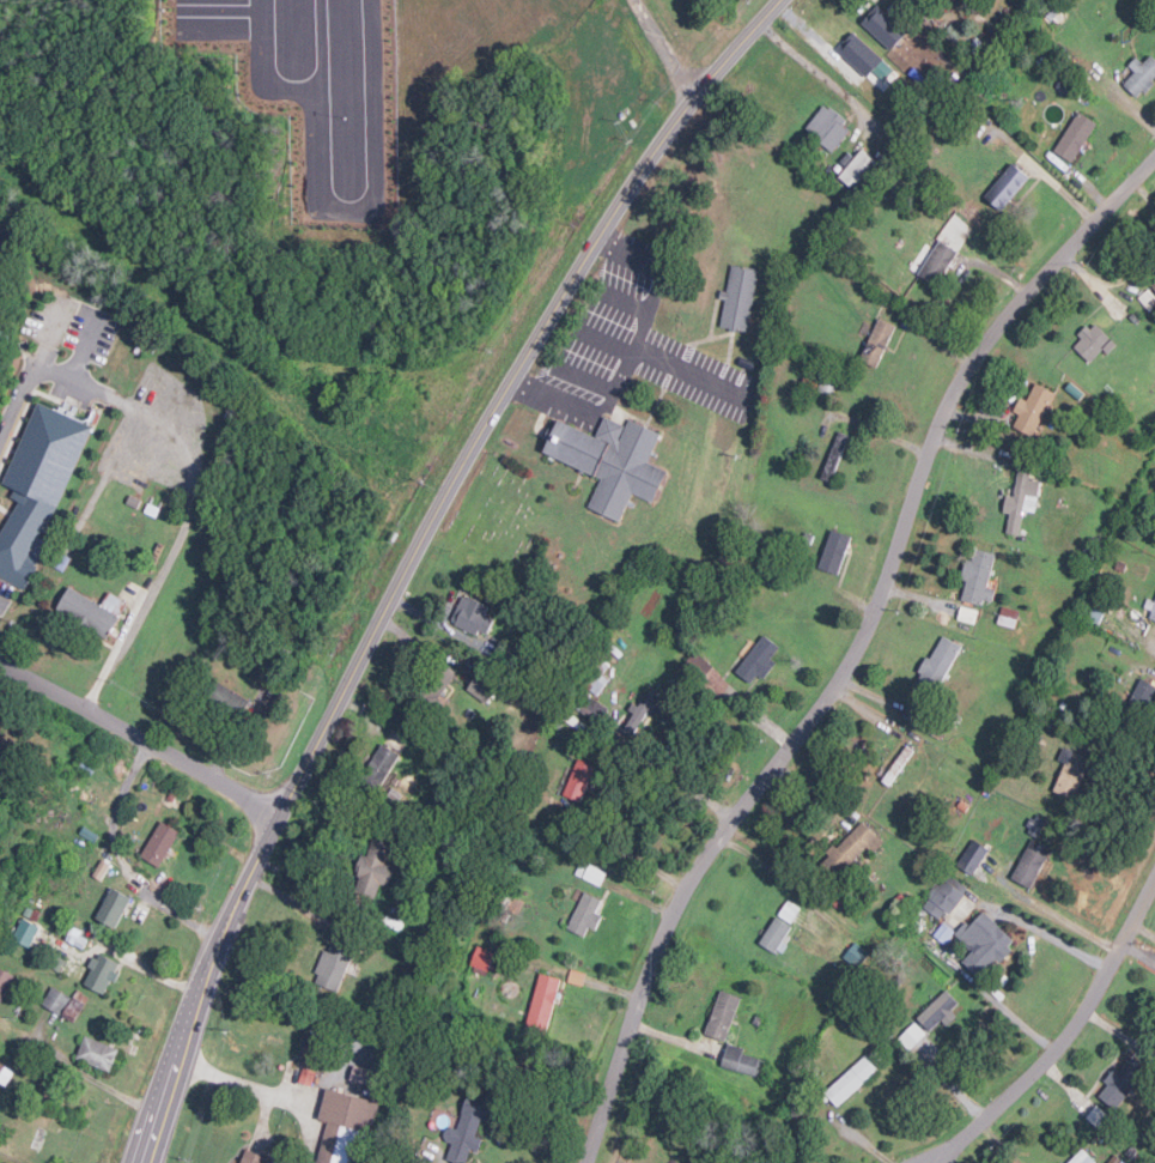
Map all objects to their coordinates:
building: (883, 26)
road: (667, 48)
building: (867, 61)
road: (817, 73)
building: (1141, 74)
building: (827, 127)
building: (1075, 135)
building: (858, 169)
building: (1007, 186)
building: (936, 261)
building: (1154, 284)
building: (738, 298)
building: (877, 341)
building: (1093, 341)
road: (93, 352)
road: (626, 353)
building: (1034, 408)
building: (610, 460)
road: (197, 466)
building: (38, 486)
building: (1021, 499)
building: (833, 551)
road: (413, 553)
building: (978, 576)
road: (5, 604)
building: (1150, 607)
building: (92, 610)
building: (472, 614)
building: (1008, 616)
road: (1151, 643)
road: (857, 649)
building: (758, 660)
building: (937, 664)
building: (595, 680)
building: (484, 686)
building: (232, 697)
building: (643, 710)
road: (139, 740)
building: (381, 764)
building: (1070, 771)
building: (579, 780)
road: (686, 783)
building: (159, 843)
building: (850, 848)
building: (972, 855)
road: (123, 860)
building: (1031, 862)
building: (375, 865)
building: (590, 872)
building: (944, 896)
building: (113, 907)
building: (790, 911)
building: (584, 914)
road: (1070, 922)
building: (25, 932)
building: (776, 934)
road: (1057, 939)
building: (984, 941)
building: (486, 958)
building: (332, 965)
building: (99, 973)
building: (5, 981)
building: (55, 999)
building: (542, 1003)
building: (74, 1005)
building: (938, 1010)
building: (723, 1014)
road: (1066, 1036)
building: (310, 1049)
building: (97, 1052)
building: (742, 1060)
road: (81, 1071)
building: (5, 1073)
building: (364, 1076)
building: (851, 1079)
building: (1121, 1079)
road: (269, 1091)
building: (346, 1127)
building: (467, 1128)
road: (859, 1139)
building: (251, 1157)
building: (1082, 1157)
building: (1117, 1159)
building: (670, 1162)

